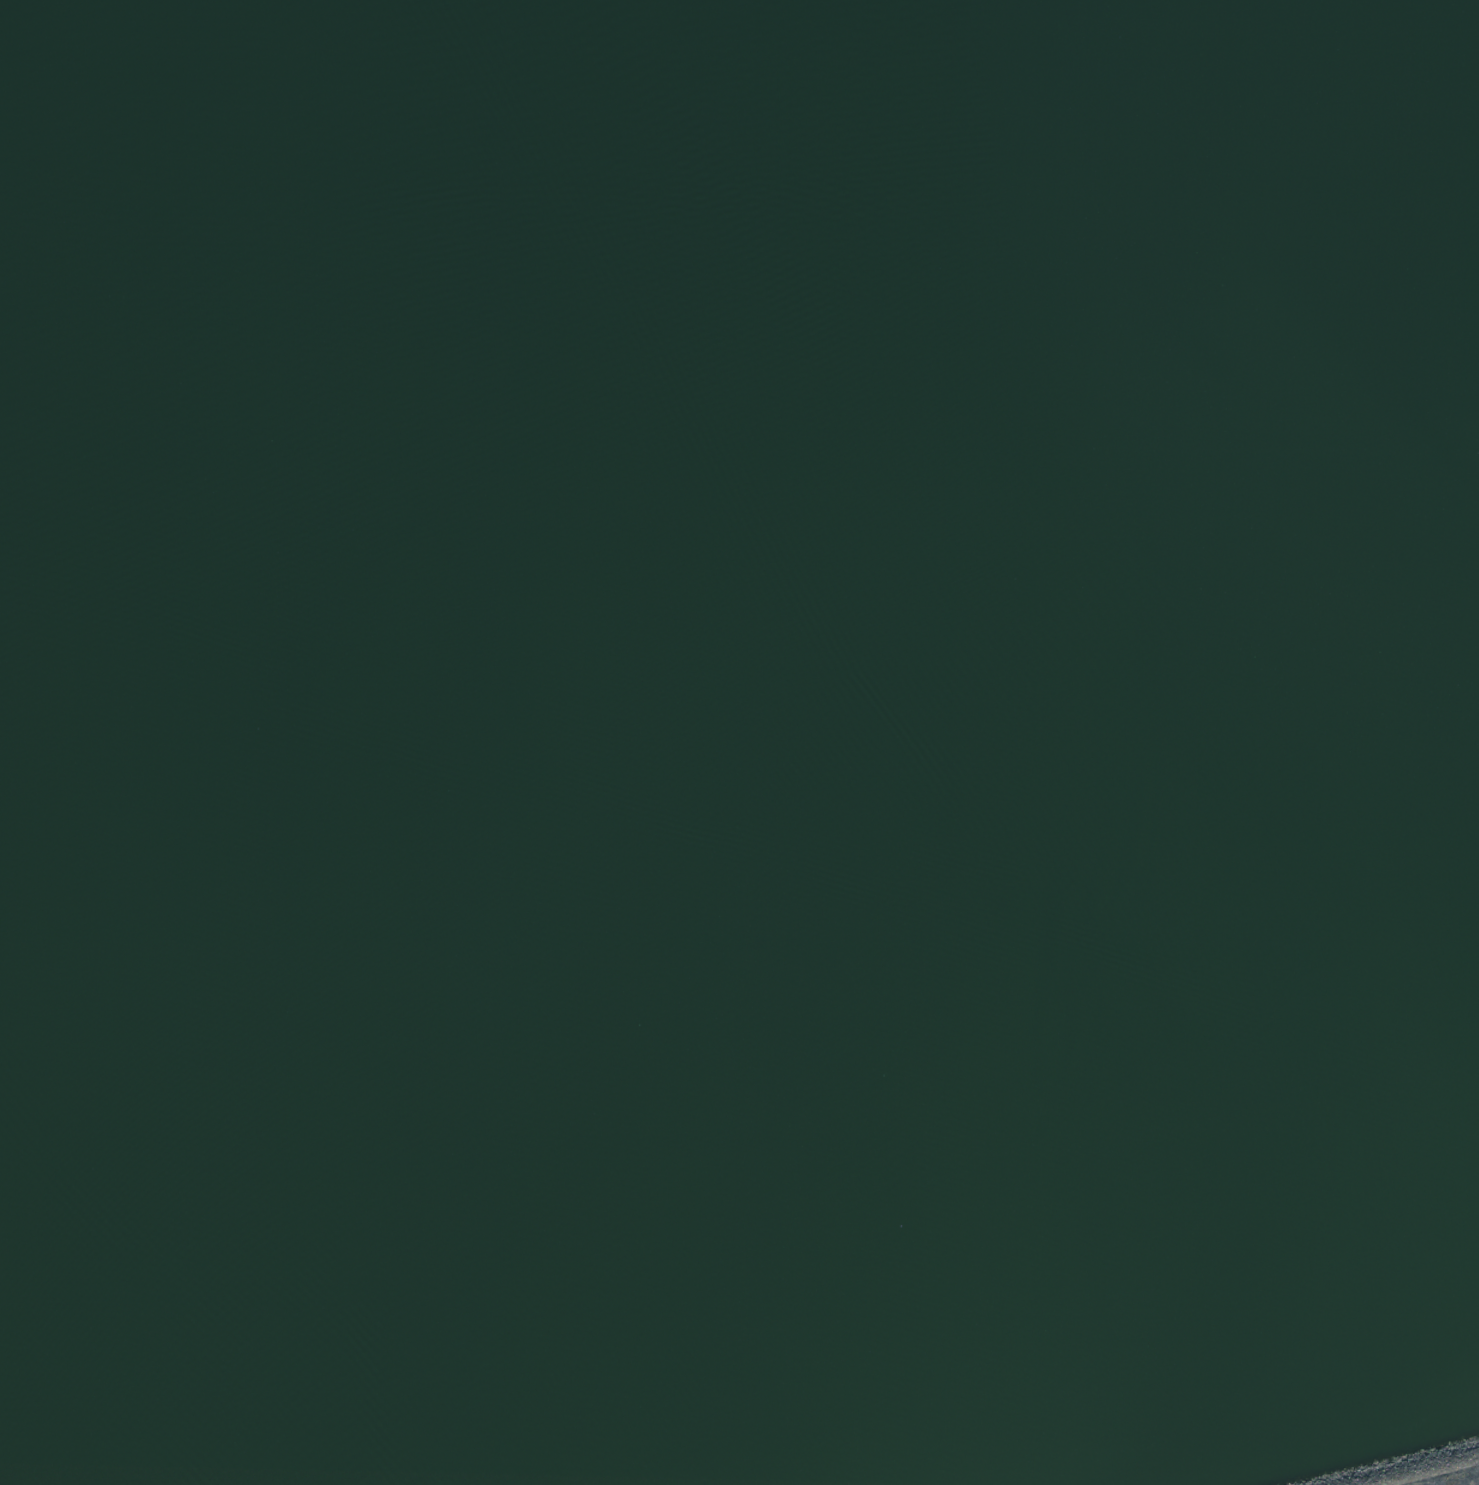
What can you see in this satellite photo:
dam: (1413, 1468)

